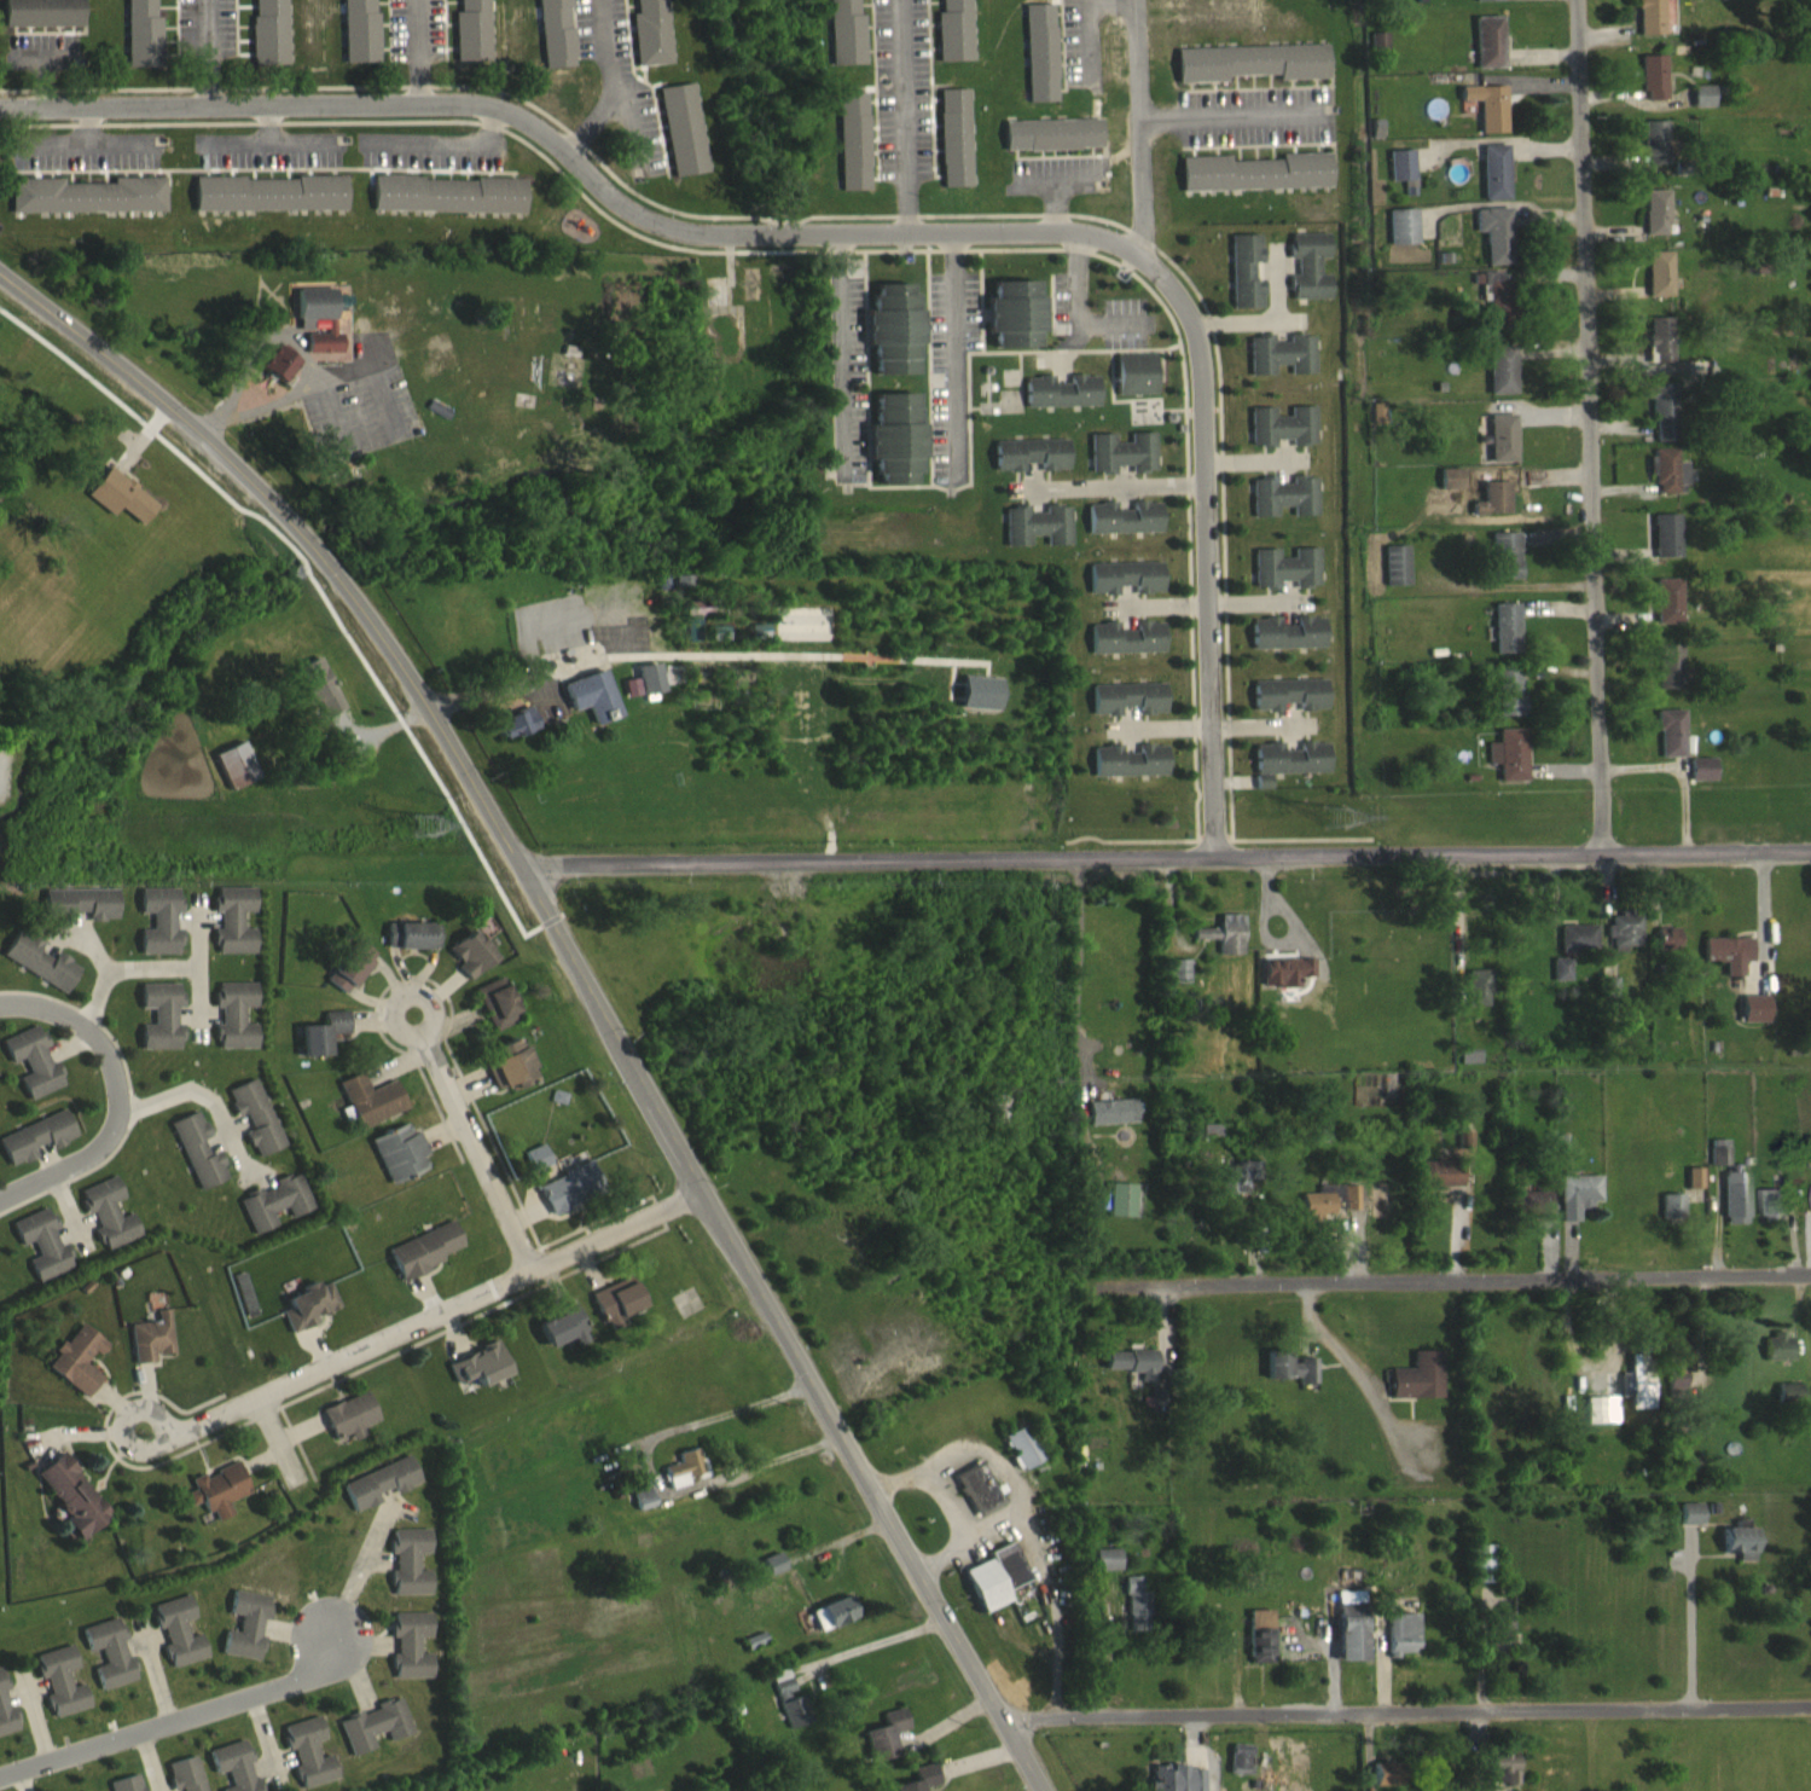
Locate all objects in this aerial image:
road: (1111, 0)
building: (1486, 6)
building: (41, 21)
building: (1648, 23)
building: (1667, 23)
building: (358, 36)
building: (471, 36)
building: (267, 37)
building: (649, 37)
building: (952, 37)
building: (553, 39)
building: (843, 39)
building: (140, 40)
road: (418, 50)
road: (209, 51)
building: (1377, 52)
building: (1487, 53)
building: (1038, 64)
building: (1250, 74)
road: (614, 87)
building: (1652, 88)
building: (1701, 108)
road: (899, 110)
road: (592, 117)
building: (1487, 117)
road: (1235, 121)
road: (1140, 127)
building: (680, 141)
building: (1050, 146)
building: (953, 149)
building: (851, 152)
building: (1654, 153)
building: (1400, 176)
building: (1255, 184)
building: (1493, 184)
building: (267, 205)
building: (447, 205)
building: (86, 207)
road: (866, 219)
building: (1654, 224)
building: (1401, 238)
building: (1493, 245)
building: (1308, 278)
road: (1276, 282)
building: (1243, 283)
building: (1659, 285)
building: (1497, 315)
road: (1246, 320)
building: (1012, 325)
building: (330, 329)
road: (835, 338)
building: (892, 341)
road: (952, 344)
building: (1659, 352)
road: (244, 360)
building: (1281, 366)
road: (371, 372)
building: (275, 375)
building: (1501, 381)
building: (1134, 386)
road: (297, 389)
building: (1060, 402)
road: (331, 410)
road: (215, 421)
building: (1664, 424)
road: (1587, 428)
building: (1282, 437)
building: (894, 450)
building: (1502, 450)
building: (1121, 464)
building: (1029, 465)
building: (1666, 482)
road: (1118, 483)
building: (1450, 491)
building: (120, 508)
building: (1284, 508)
building: (1494, 509)
building: (1124, 529)
building: (1035, 537)
building: (1665, 547)
building: (1505, 567)
building: (1397, 576)
building: (1285, 580)
building: (1125, 589)
building: (683, 592)
building: (1666, 612)
building: (697, 619)
building: (1505, 639)
building: (720, 644)
building: (1288, 645)
building: (1126, 649)
building: (1668, 678)
building: (674, 686)
building: (649, 690)
building: (631, 699)
building: (319, 700)
building: (1509, 702)
building: (980, 705)
building: (1289, 706)
building: (592, 707)
building: (1128, 709)
building: (513, 735)
building: (1671, 744)
building: (1509, 766)
building: (1130, 772)
building: (1288, 772)
building: (234, 777)
building: (1701, 781)
power tower: (1333, 801)
power tower: (433, 824)
road: (1171, 870)
building: (77, 916)
building: (157, 932)
building: (232, 932)
building: (1623, 944)
building: (1224, 945)
building: (410, 947)
building: (1577, 947)
building: (1666, 950)
building: (1728, 964)
building: (469, 966)
road: (1073, 967)
building: (37, 973)
road: (585, 976)
building: (348, 978)
building: (1560, 980)
road: (130, 983)
building: (1178, 983)
building: (1287, 983)
building: (1478, 999)
road: (430, 1002)
building: (495, 1015)
building: (1745, 1019)
building: (158, 1027)
building: (233, 1027)
building: (320, 1044)
building: (1469, 1068)
building: (31, 1073)
building: (509, 1077)
road: (117, 1089)
road: (198, 1089)
building: (367, 1112)
building: (1113, 1123)
building: (254, 1129)
building: (34, 1149)
road: (481, 1149)
building: (196, 1163)
building: (397, 1164)
building: (536, 1169)
building: (1439, 1186)
building: (1240, 1188)
building: (569, 1198)
building: (1577, 1206)
building: (1735, 1210)
building: (1121, 1212)
building: (1330, 1212)
building: (273, 1213)
building: (1531, 1213)
building: (1671, 1217)
building: (1770, 1217)
building: (108, 1224)
building: (41, 1256)
building: (424, 1260)
road: (1406, 1270)
building: (616, 1314)
road: (435, 1315)
building: (307, 1317)
building: (562, 1339)
building: (150, 1350)
building: (1777, 1358)
building: (75, 1370)
building: (1131, 1374)
building: (477, 1376)
building: (1676, 1378)
building: (1289, 1379)
building: (1417, 1389)
building: (1641, 1393)
road: (129, 1405)
building: (1157, 1409)
building: (348, 1428)
road: (277, 1438)
building: (1021, 1459)
building: (684, 1479)
road: (646, 1486)
building: (377, 1495)
building: (975, 1500)
building: (215, 1501)
road: (948, 1507)
building: (69, 1509)
building: (642, 1511)
building: (1689, 1525)
building: (1739, 1554)
building: (1104, 1571)
building: (407, 1573)
building: (1482, 1575)
building: (772, 1576)
road: (1046, 1607)
building: (1134, 1617)
building: (830, 1625)
building: (244, 1636)
building: (175, 1642)
building: (1349, 1644)
building: (1501, 1644)
building: (1400, 1646)
building: (1259, 1648)
building: (408, 1657)
road: (871, 1657)
building: (106, 1665)
building: (57, 1693)
building: (789, 1712)
road: (172, 1717)
road: (1401, 1721)
building: (5, 1726)
building: (372, 1738)
building: (883, 1746)
building: (307, 1761)
building: (1238, 1770)
building: (230, 1772)
building: (1499, 1775)
building: (181, 1780)
building: (1385, 1781)
building: (923, 1784)
building: (1173, 1784)
building: (130, 1789)

